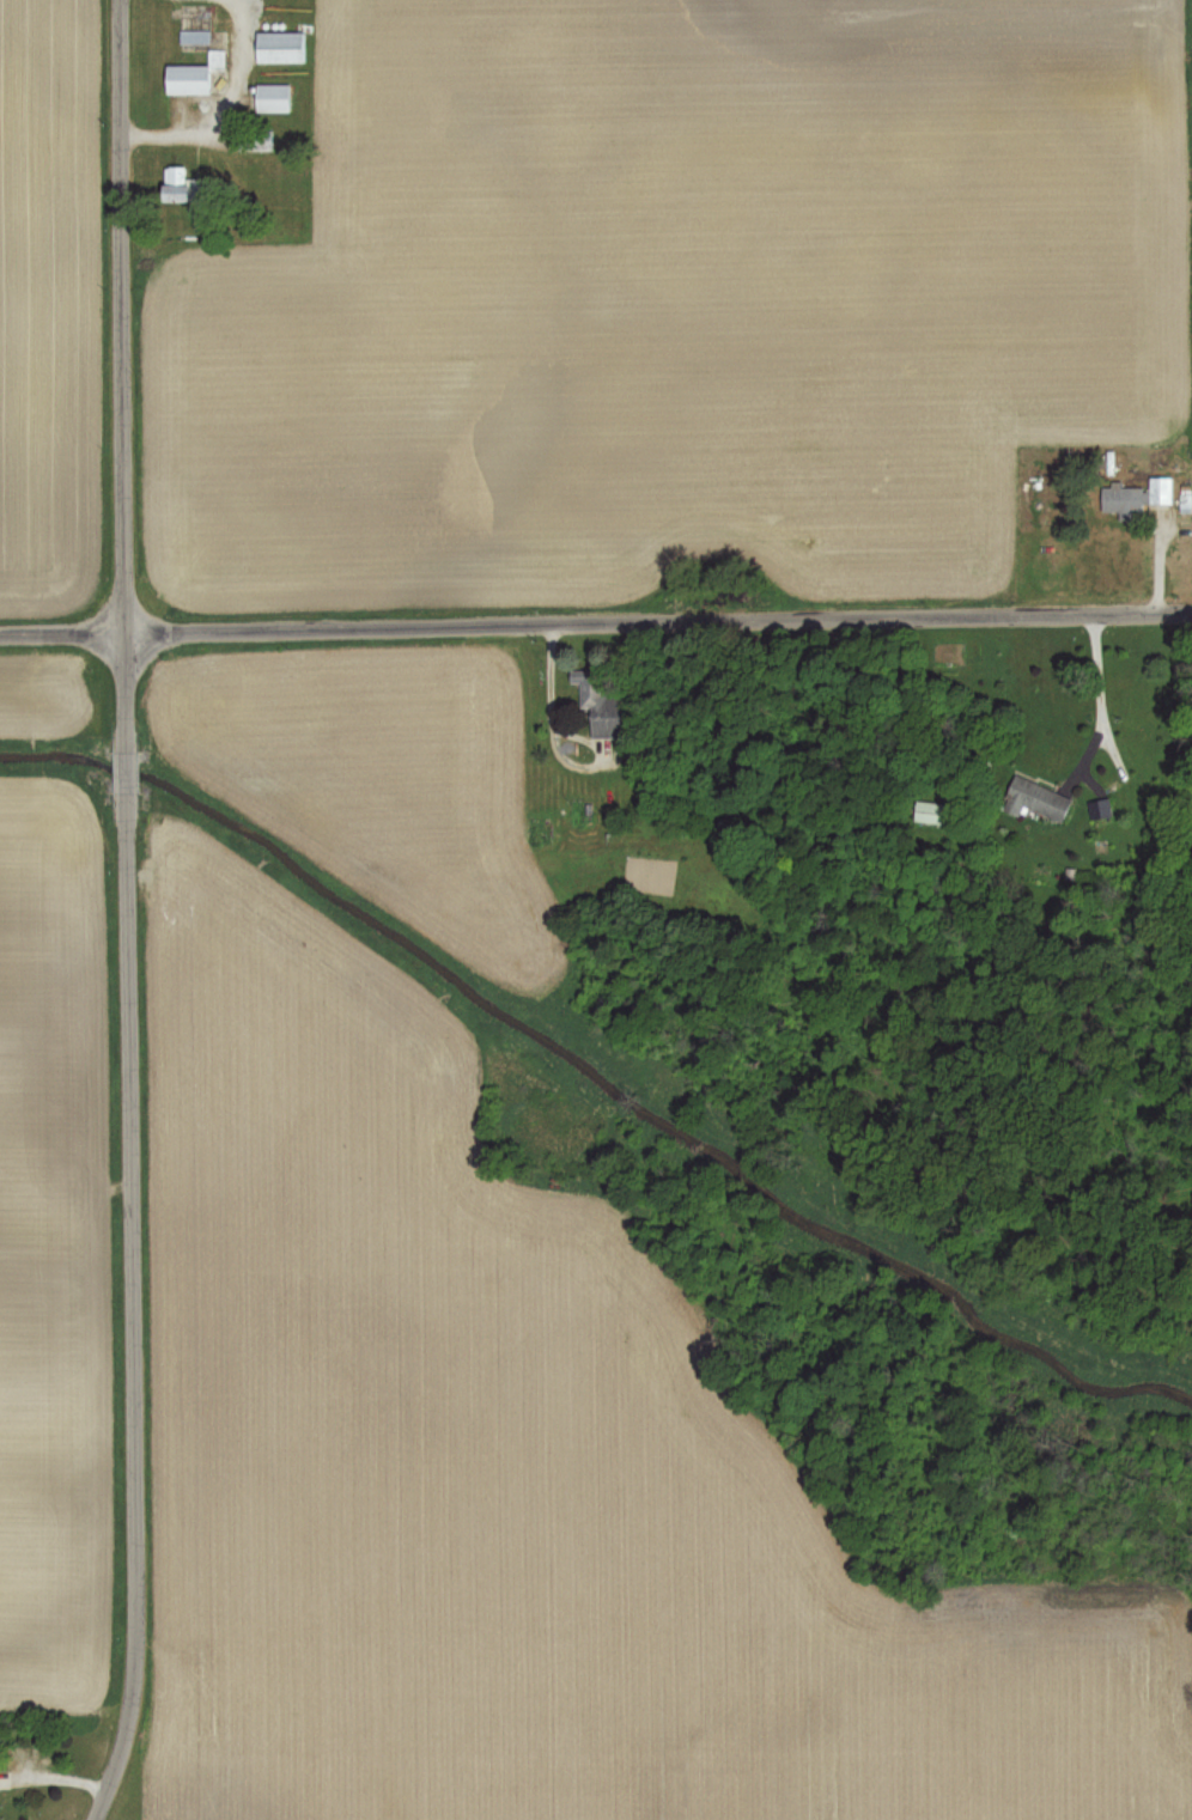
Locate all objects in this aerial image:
building: (279, 47)
building: (193, 75)
building: (272, 97)
road: (229, 108)
building: (253, 140)
building: (177, 184)
road: (124, 373)
building: (1136, 497)
road: (595, 620)
road: (1094, 676)
building: (598, 702)
road: (127, 766)
road: (1080, 781)
building: (1034, 799)
building: (931, 812)
building: (540, 830)
road: (127, 1266)
road: (105, 1782)

